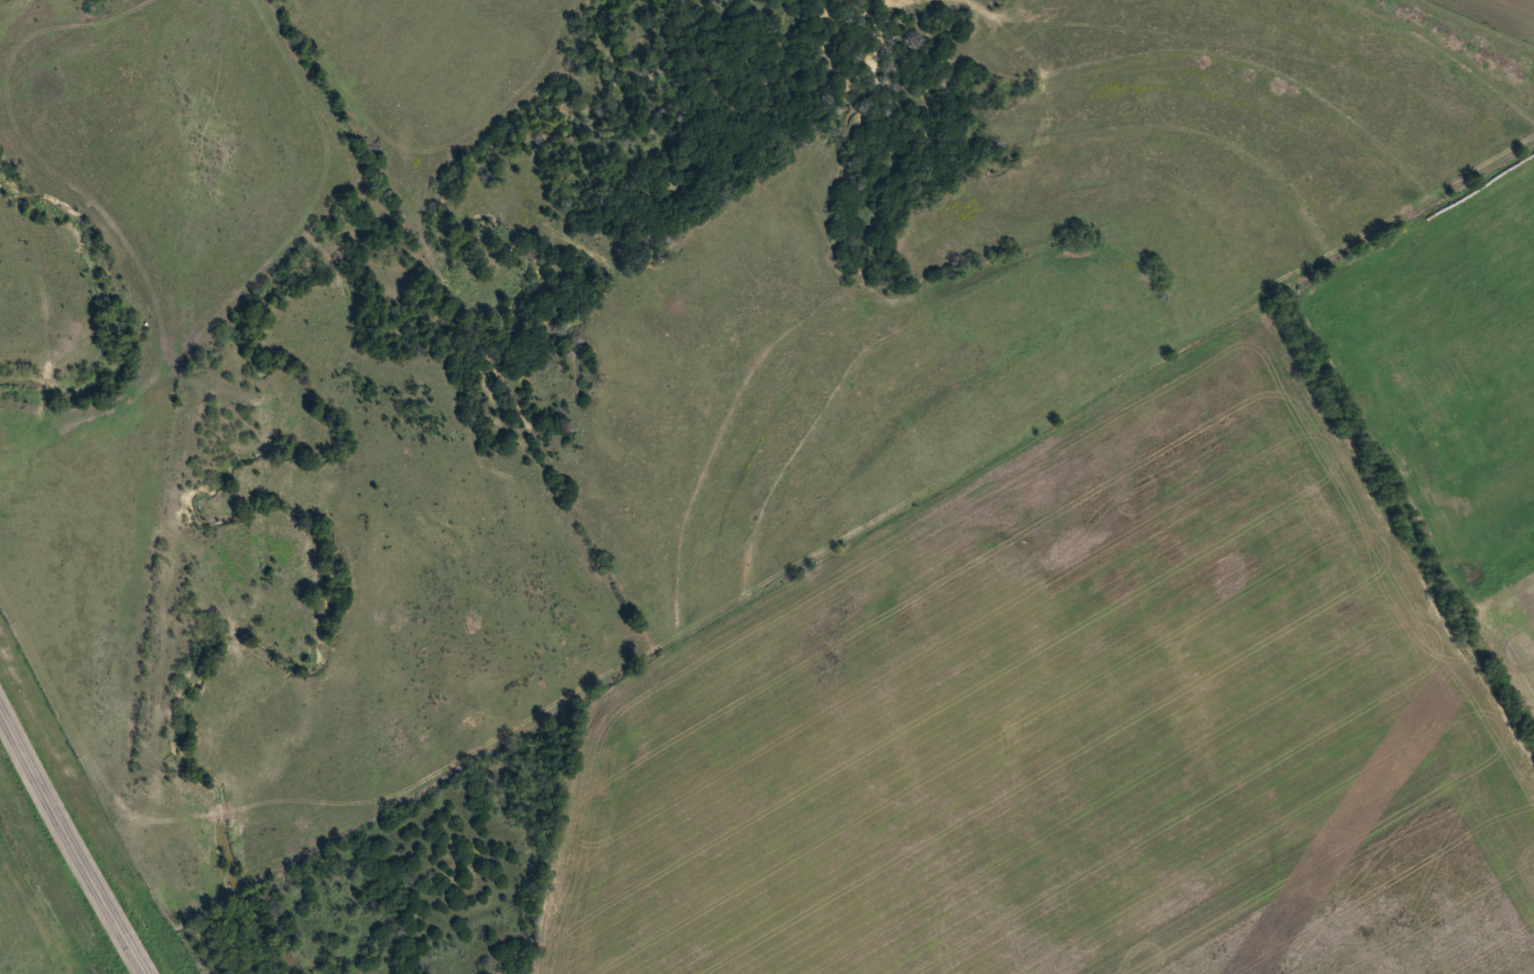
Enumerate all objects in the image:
road: (67, 844)

